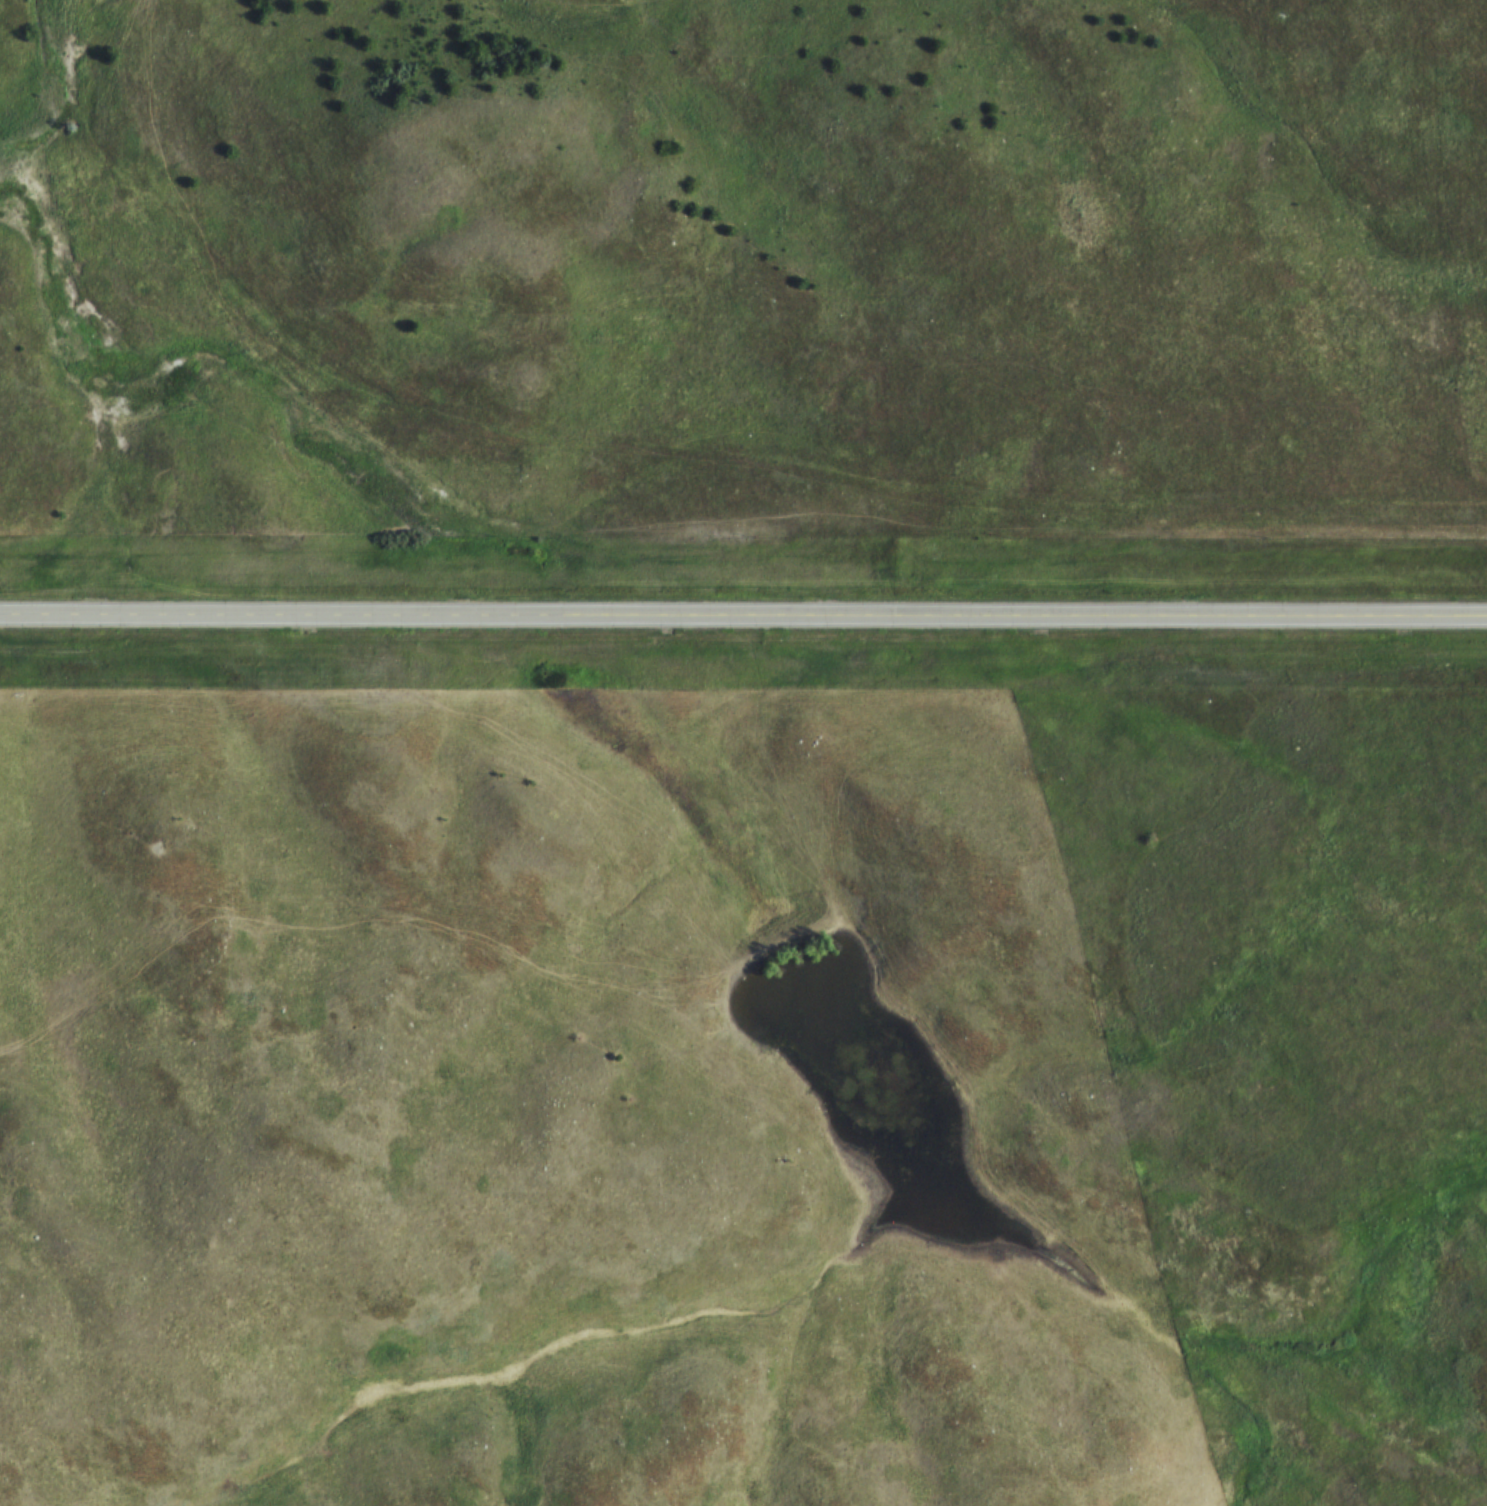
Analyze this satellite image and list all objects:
road: (743, 618)

